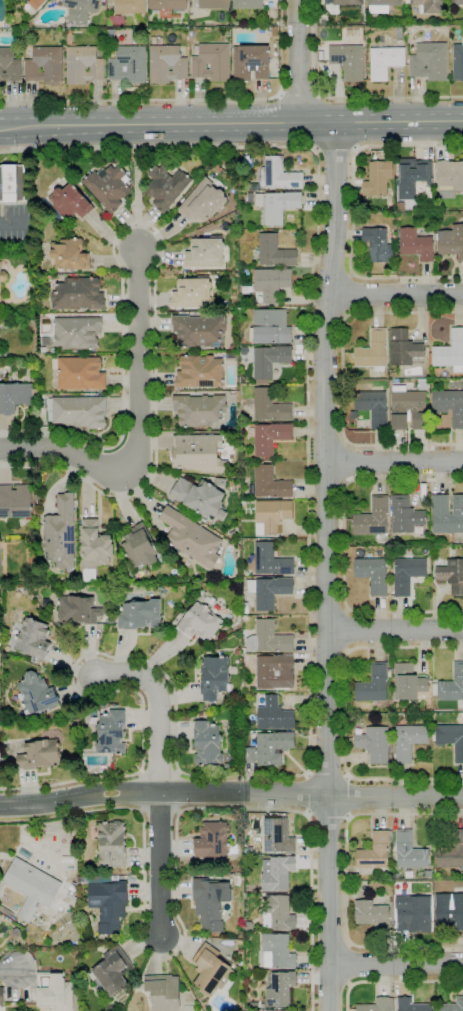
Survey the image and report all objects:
building: (51, 1)
building: (344, 2)
building: (456, 2)
building: (35, 3)
building: (213, 4)
building: (246, 4)
building: (168, 5)
building: (129, 6)
building: (381, 6)
building: (428, 6)
building: (80, 10)
building: (226, 29)
building: (274, 31)
building: (111, 33)
building: (276, 43)
road: (298, 61)
building: (348, 61)
building: (429, 61)
building: (211, 62)
building: (250, 62)
building: (384, 62)
building: (457, 62)
building: (128, 64)
building: (166, 64)
building: (9, 65)
building: (83, 65)
building: (45, 66)
road: (297, 93)
road: (342, 98)
road: (187, 99)
road: (231, 124)
road: (335, 151)
building: (280, 175)
building: (450, 176)
building: (412, 177)
building: (377, 179)
building: (12, 183)
building: (166, 186)
building: (108, 187)
road: (136, 197)
building: (70, 201)
building: (201, 202)
building: (280, 206)
building: (400, 206)
road: (353, 214)
road: (12, 224)
parking lot: (14, 224)
building: (451, 242)
building: (377, 244)
building: (415, 245)
building: (274, 251)
building: (204, 253)
building: (70, 254)
road: (332, 273)
building: (2, 281)
building: (271, 283)
road: (394, 292)
building: (190, 293)
building: (78, 294)
road: (348, 294)
road: (327, 312)
building: (271, 326)
building: (199, 330)
building: (76, 332)
building: (404, 349)
building: (372, 351)
building: (450, 352)
road: (137, 354)
building: (269, 359)
building: (200, 372)
building: (80, 373)
building: (391, 374)
road: (342, 378)
building: (422, 384)
building: (14, 396)
building: (449, 405)
building: (269, 406)
building: (372, 407)
building: (199, 410)
building: (398, 410)
building: (80, 411)
building: (440, 432)
building: (269, 437)
road: (346, 443)
road: (71, 453)
building: (198, 453)
road: (308, 458)
road: (394, 462)
building: (269, 483)
road: (326, 483)
building: (200, 497)
building: (15, 501)
building: (272, 514)
building: (447, 514)
building: (404, 515)
building: (372, 518)
building: (60, 534)
building: (190, 537)
building: (96, 543)
building: (139, 546)
road: (344, 546)
building: (270, 561)
road: (326, 566)
building: (372, 574)
building: (407, 574)
building: (452, 575)
building: (271, 592)
road: (326, 600)
building: (78, 610)
building: (139, 615)
building: (200, 622)
road: (394, 629)
road: (347, 630)
building: (271, 637)
building: (33, 639)
road: (328, 649)
road: (83, 654)
building: (274, 671)
building: (214, 677)
building: (407, 682)
building: (373, 685)
building: (452, 685)
building: (37, 694)
road: (158, 705)
road: (345, 712)
building: (275, 715)
building: (112, 732)
building: (451, 740)
building: (408, 741)
building: (208, 744)
building: (374, 744)
building: (269, 748)
building: (40, 755)
road: (327, 774)
road: (230, 792)
road: (305, 793)
road: (349, 797)
road: (159, 809)
road: (326, 816)
building: (277, 835)
building: (212, 840)
building: (112, 844)
building: (409, 851)
building: (375, 853)
building: (451, 853)
road: (160, 863)
building: (277, 873)
building: (407, 873)
building: (428, 873)
building: (437, 873)
building: (461, 874)
building: (355, 876)
road: (347, 880)
road: (176, 882)
building: (31, 886)
building: (210, 901)
building: (108, 905)
building: (448, 911)
building: (280, 912)
building: (413, 914)
building: (372, 915)
road: (331, 943)
building: (279, 950)
road: (395, 965)
building: (209, 968)
road: (9, 969)
building: (113, 970)
road: (393, 981)
road: (350, 984)
building: (279, 988)
building: (54, 991)
building: (163, 991)
building: (1, 995)
building: (377, 1005)
building: (411, 1005)
building: (451, 1005)
building: (276, 1010)

